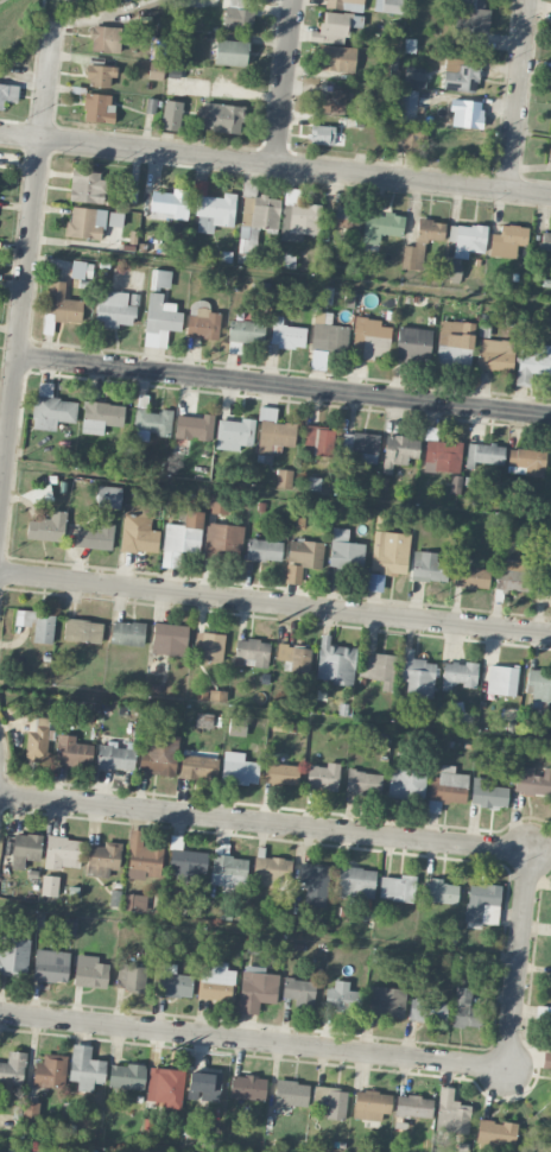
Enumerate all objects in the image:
building: (343, 5)
building: (388, 6)
building: (237, 14)
building: (470, 14)
building: (334, 24)
building: (106, 38)
building: (230, 52)
building: (336, 57)
building: (156, 70)
building: (100, 75)
building: (458, 75)
building: (413, 76)
road: (281, 82)
building: (550, 86)
building: (8, 94)
road: (518, 95)
building: (329, 102)
building: (150, 105)
building: (407, 106)
building: (97, 108)
building: (465, 113)
building: (171, 114)
building: (220, 118)
building: (322, 134)
building: (550, 150)
road: (274, 164)
building: (87, 186)
building: (129, 195)
building: (169, 204)
building: (214, 211)
building: (302, 214)
building: (347, 216)
building: (115, 219)
building: (85, 222)
building: (381, 226)
building: (467, 239)
building: (507, 241)
building: (545, 241)
building: (420, 242)
road: (78, 243)
building: (245, 247)
road: (26, 258)
building: (81, 270)
building: (451, 271)
building: (160, 279)
building: (62, 303)
building: (113, 309)
building: (159, 319)
building: (202, 321)
building: (246, 330)
building: (328, 333)
building: (286, 334)
building: (370, 337)
building: (454, 342)
building: (412, 343)
building: (495, 354)
building: (318, 360)
building: (532, 362)
road: (283, 385)
building: (51, 409)
building: (100, 416)
building: (148, 420)
building: (194, 426)
building: (235, 431)
building: (273, 431)
road: (2, 437)
building: (318, 441)
building: (361, 445)
building: (400, 449)
building: (441, 454)
building: (484, 454)
building: (528, 461)
building: (284, 477)
building: (455, 483)
building: (108, 496)
building: (217, 504)
building: (381, 521)
building: (46, 527)
building: (139, 528)
building: (94, 537)
building: (182, 538)
building: (223, 538)
building: (264, 550)
building: (344, 550)
building: (387, 557)
building: (427, 566)
building: (512, 576)
building: (470, 577)
building: (544, 583)
road: (275, 605)
building: (37, 624)
building: (82, 631)
building: (127, 633)
building: (169, 639)
building: (208, 646)
building: (251, 652)
building: (294, 658)
building: (334, 662)
building: (375, 669)
building: (417, 675)
building: (458, 675)
building: (501, 679)
building: (538, 689)
building: (204, 696)
building: (236, 726)
building: (37, 739)
building: (72, 752)
building: (159, 754)
building: (114, 757)
building: (198, 767)
building: (237, 768)
building: (280, 773)
building: (323, 777)
building: (362, 781)
building: (533, 781)
building: (406, 784)
building: (446, 789)
building: (487, 793)
road: (265, 823)
building: (25, 849)
building: (62, 853)
building: (142, 857)
building: (102, 859)
building: (272, 871)
building: (227, 872)
building: (355, 881)
building: (313, 884)
building: (49, 885)
building: (397, 887)
building: (439, 892)
building: (133, 903)
building: (482, 903)
building: (13, 956)
road: (519, 960)
building: (50, 966)
building: (90, 971)
building: (131, 977)
building: (173, 982)
building: (216, 982)
building: (256, 988)
building: (299, 992)
building: (342, 998)
building: (385, 1001)
building: (465, 1009)
building: (427, 1011)
building: (550, 1036)
road: (253, 1040)
building: (546, 1059)
building: (12, 1068)
building: (85, 1068)
building: (50, 1070)
building: (126, 1076)
building: (204, 1084)
building: (165, 1087)
building: (247, 1087)
building: (291, 1093)
building: (331, 1101)
building: (370, 1104)
building: (413, 1106)
building: (27, 1110)
building: (451, 1113)
building: (496, 1133)
building: (30, 1147)

